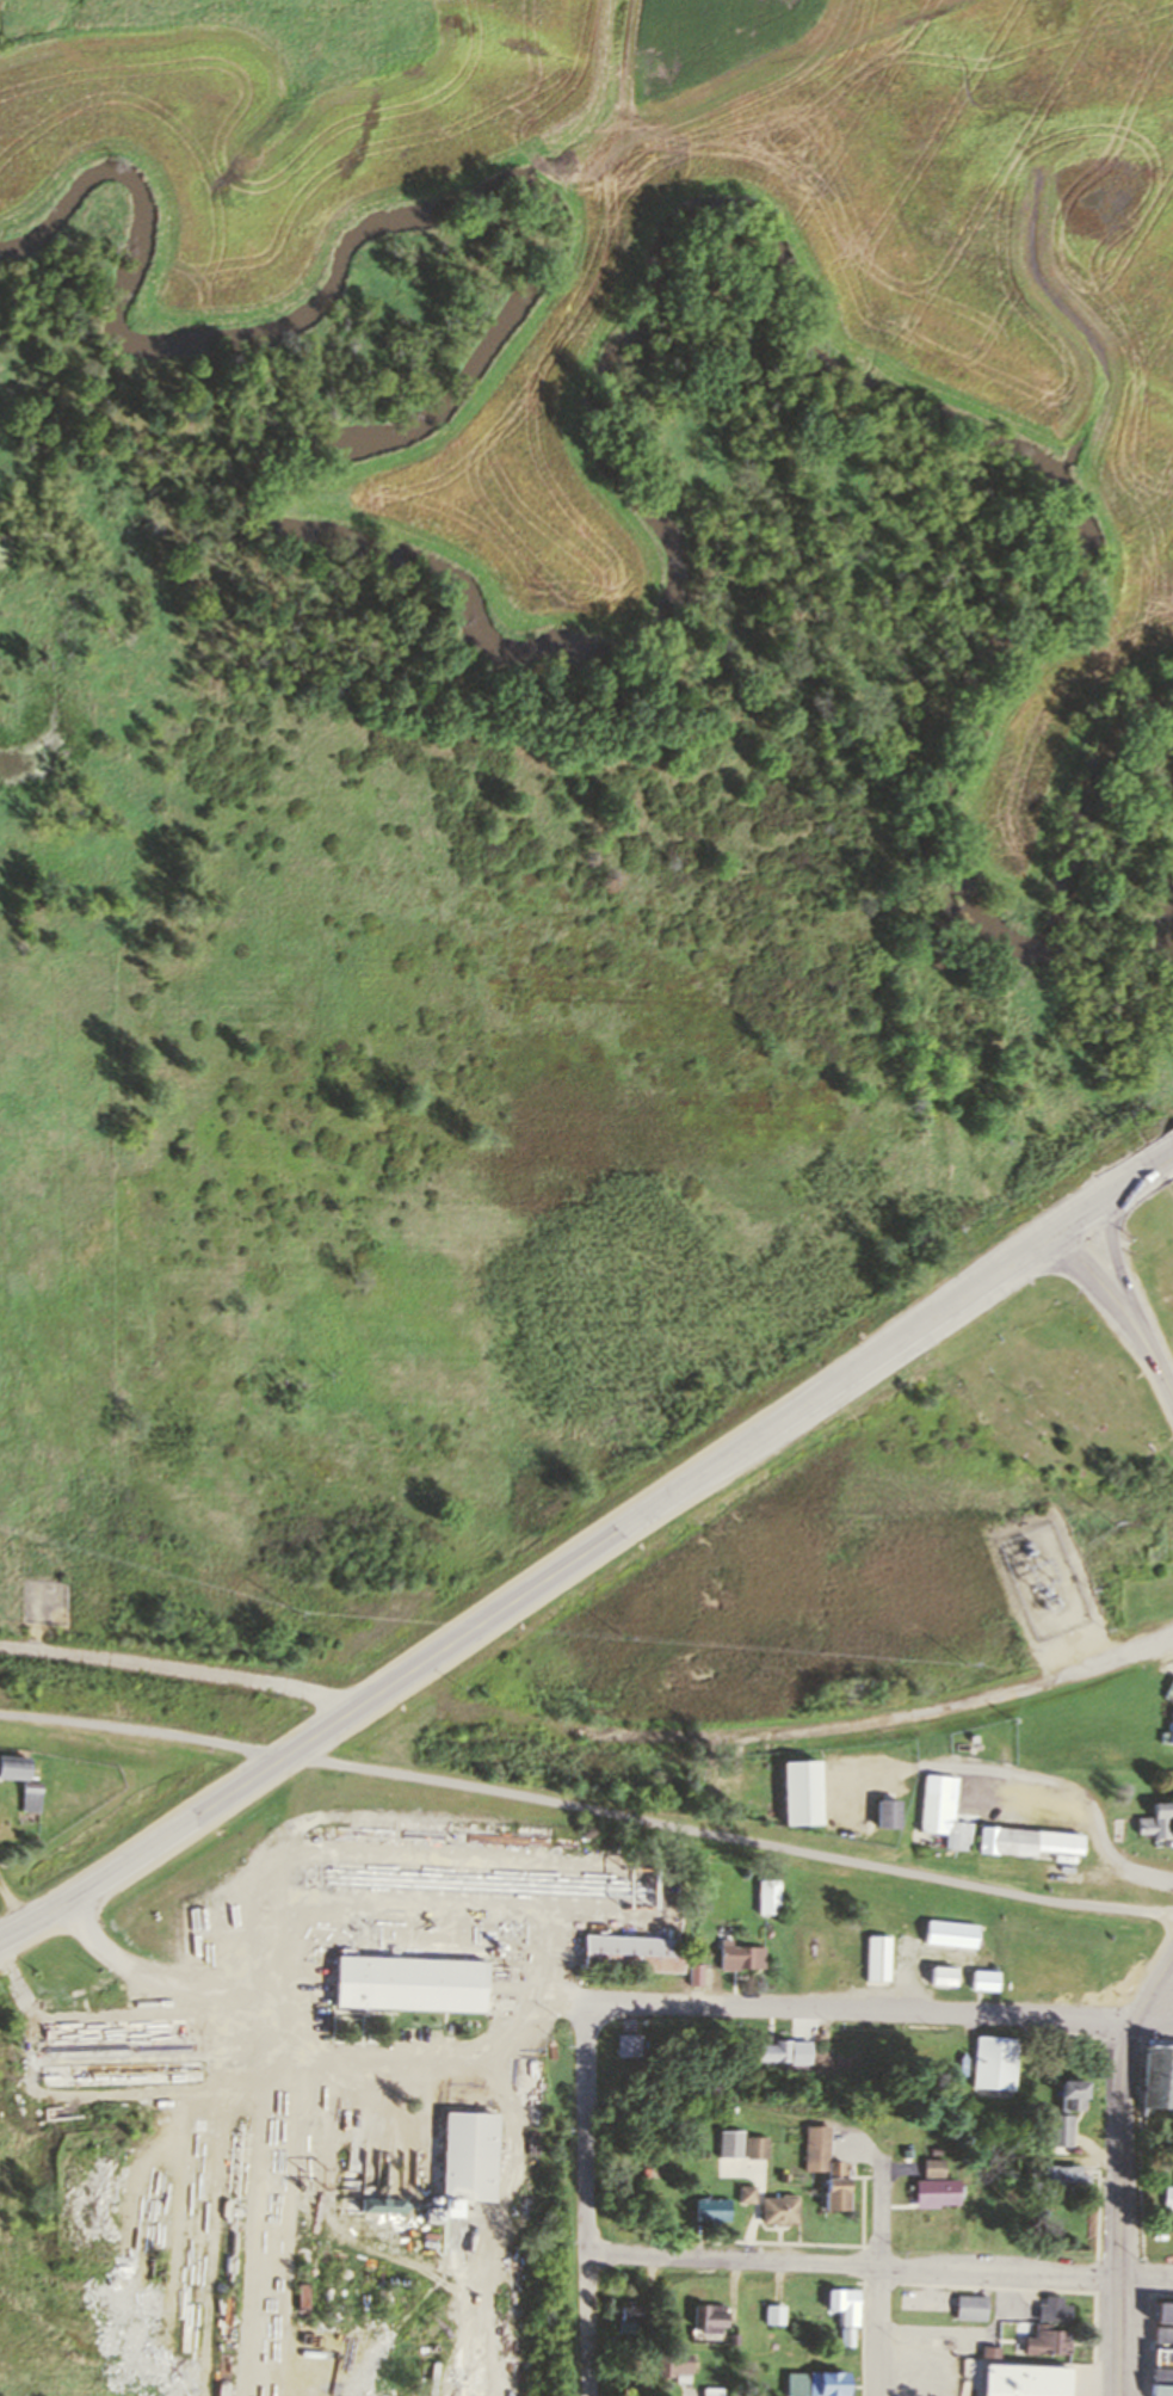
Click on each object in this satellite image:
road: (1169, 1150)
road: (1115, 1187)
road: (1111, 1258)
road: (1119, 1308)
power substation: (1042, 1581)
road: (537, 1590)
building: (60, 1615)
road: (190, 1674)
building: (1168, 1687)
road: (952, 1705)
building: (1167, 1727)
building: (12, 1766)
road: (1057, 1782)
building: (798, 1792)
building: (30, 1796)
building: (887, 1813)
road: (586, 1815)
building: (1154, 1819)
building: (943, 1821)
building: (1026, 1840)
building: (768, 1896)
road: (14, 1897)
building: (950, 1934)
building: (629, 1954)
building: (742, 1955)
road: (922, 1957)
building: (877, 1958)
building: (943, 1975)
building: (986, 1979)
road: (166, 1984)
building: (406, 1984)
road: (1152, 1985)
road: (860, 2009)
road: (1153, 2019)
building: (772, 2053)
building: (993, 2062)
building: (1155, 2074)
building: (1058, 2113)
building: (813, 2141)
building: (727, 2143)
road: (1122, 2146)
building: (755, 2148)
building: (464, 2155)
building: (927, 2167)
building: (1055, 2180)
building: (834, 2186)
building: (932, 2193)
building: (743, 2194)
road: (586, 2198)
building: (1166, 2198)
road: (754, 2203)
building: (709, 2210)
building: (778, 2210)
road: (864, 2210)
road: (1142, 2216)
road: (1095, 2229)
road: (792, 2242)
road: (853, 2263)
road: (881, 2275)
road: (1148, 2277)
road: (1026, 2289)
road: (1134, 2293)
parking lot: (926, 2300)
building: (845, 2304)
parking lot: (1014, 2305)
building: (969, 2308)
building: (1050, 2308)
building: (1161, 2311)
building: (631, 2312)
building: (774, 2314)
building: (710, 2316)
building: (1161, 2334)
road: (1122, 2336)
building: (1045, 2340)
building: (989, 2351)
parking lot: (925, 2358)
building: (672, 2364)
building: (1160, 2364)
building: (1020, 2379)
building: (819, 2382)
building: (1160, 2389)
building: (712, 2390)
road: (684, 2391)

